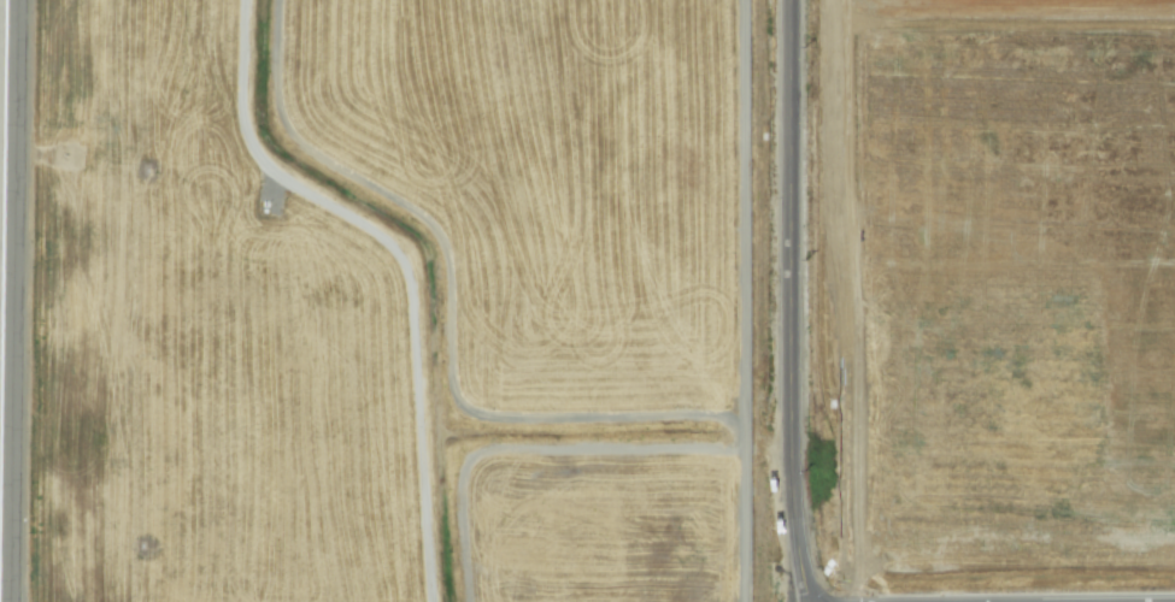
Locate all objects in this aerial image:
airport: (384, 301)
road: (791, 301)

